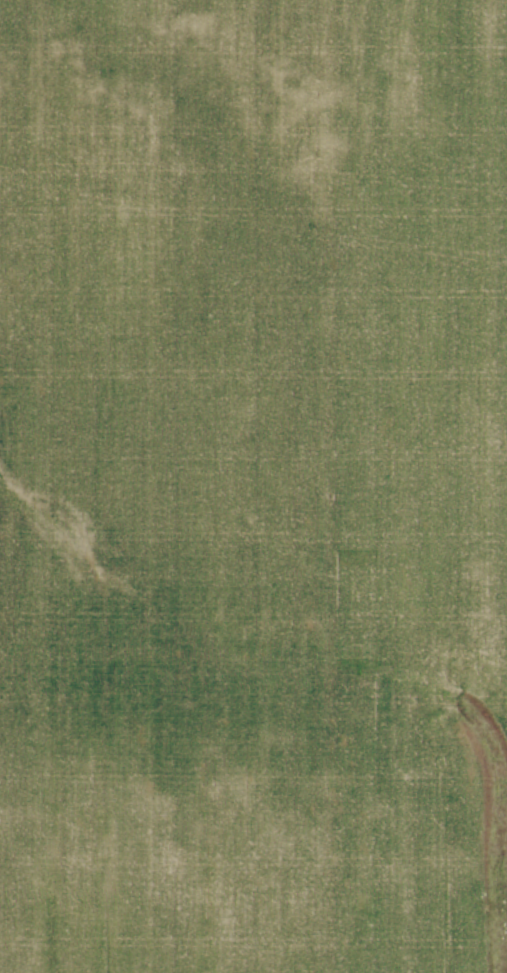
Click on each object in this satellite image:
crop: (253, 486)

